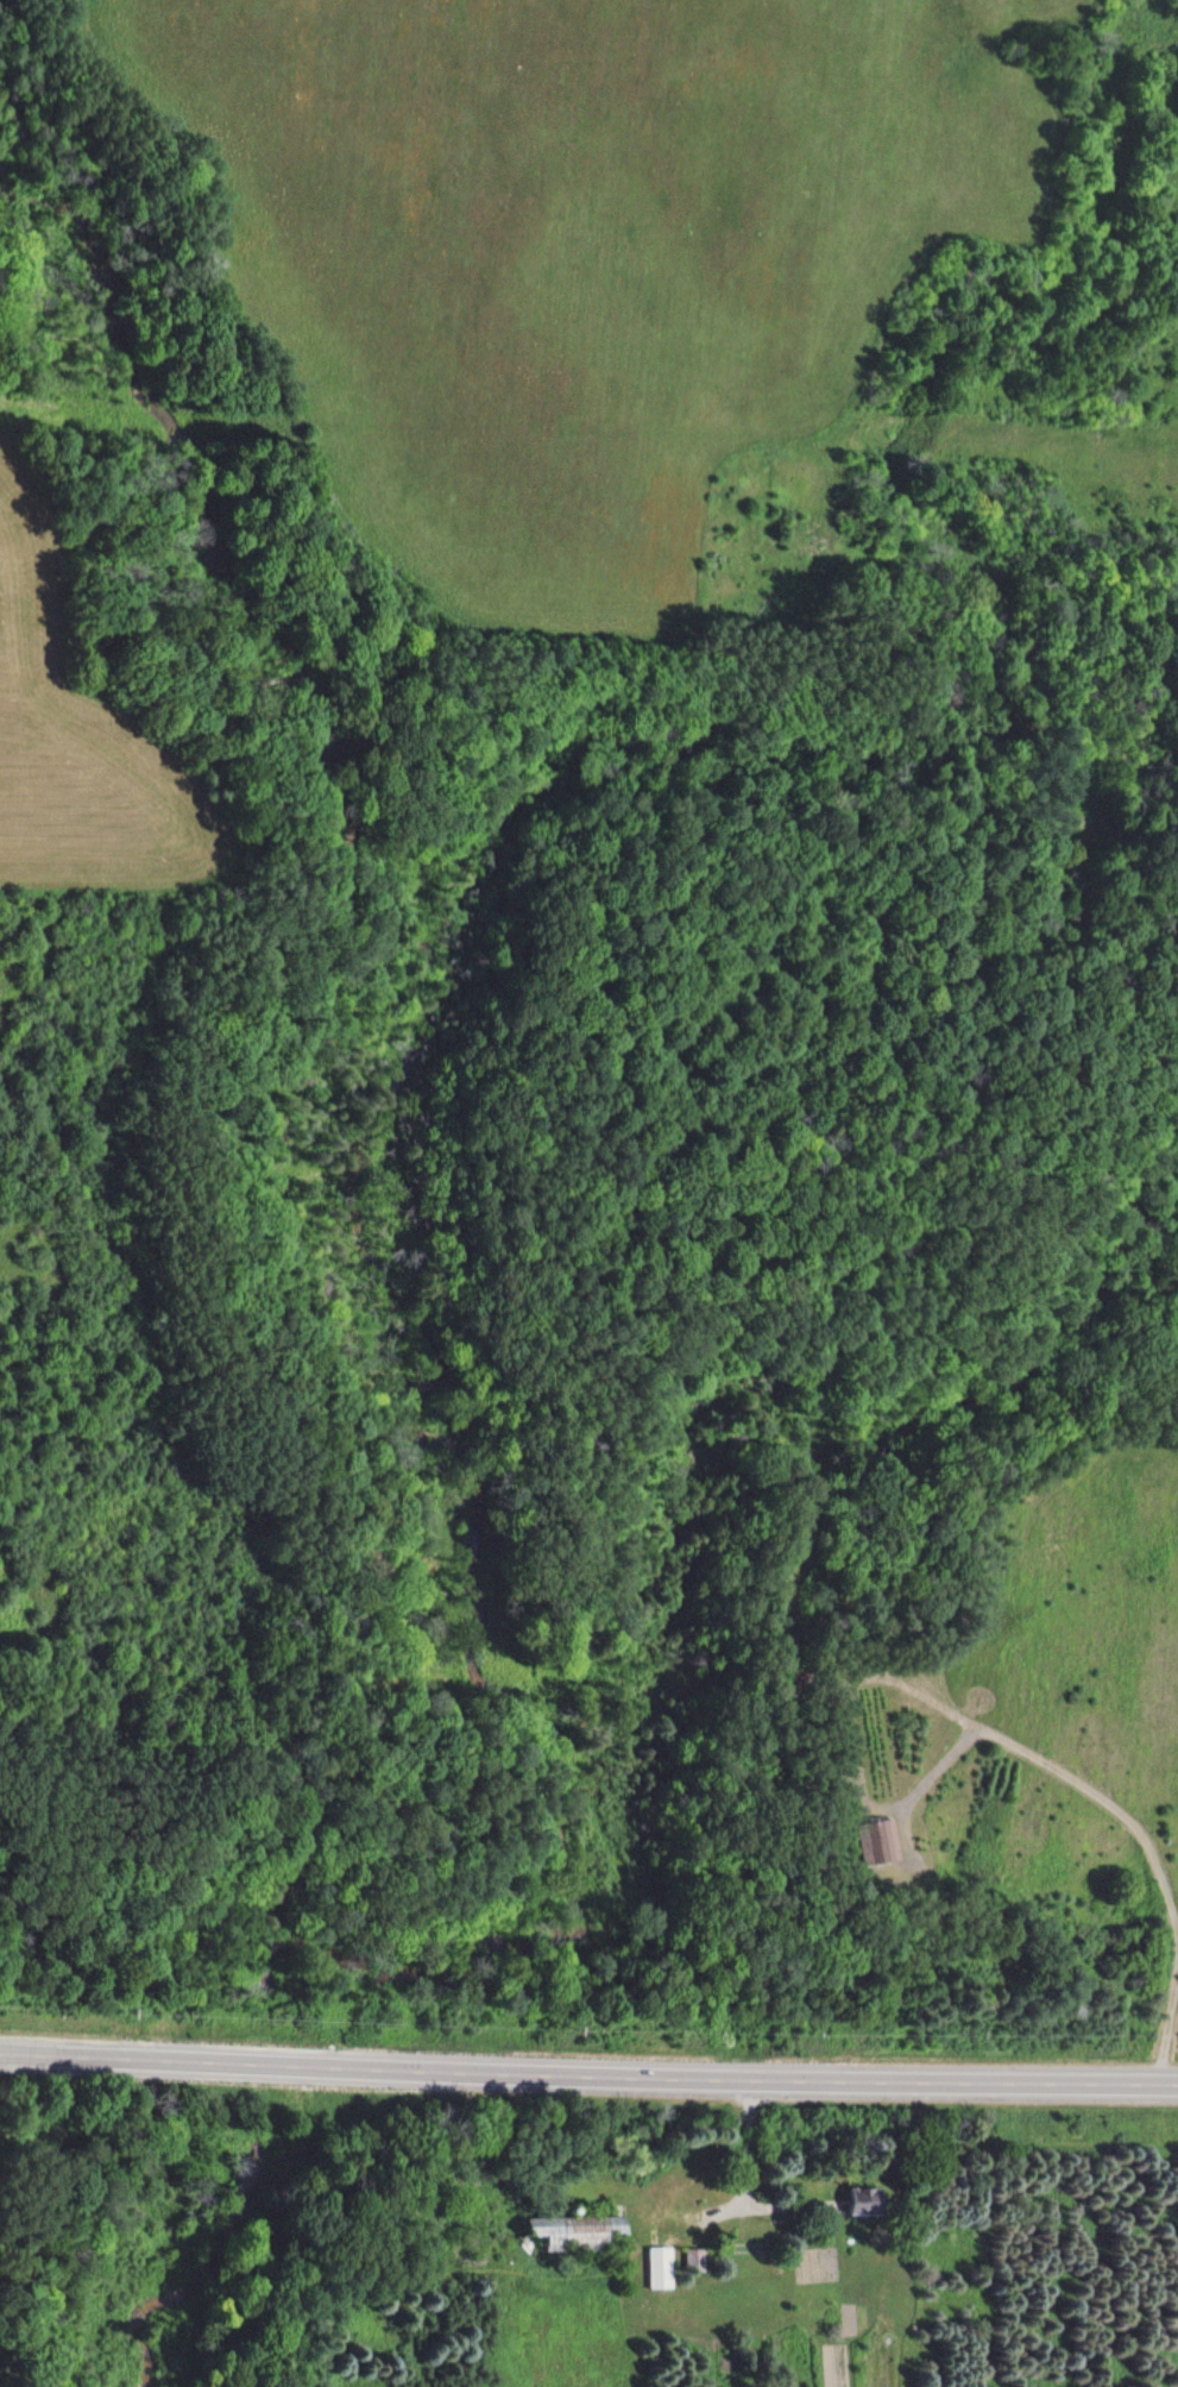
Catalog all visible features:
building: (877, 1842)
road: (183, 2060)
road: (771, 2077)
building: (864, 2200)
building: (581, 2232)
building: (661, 2268)

